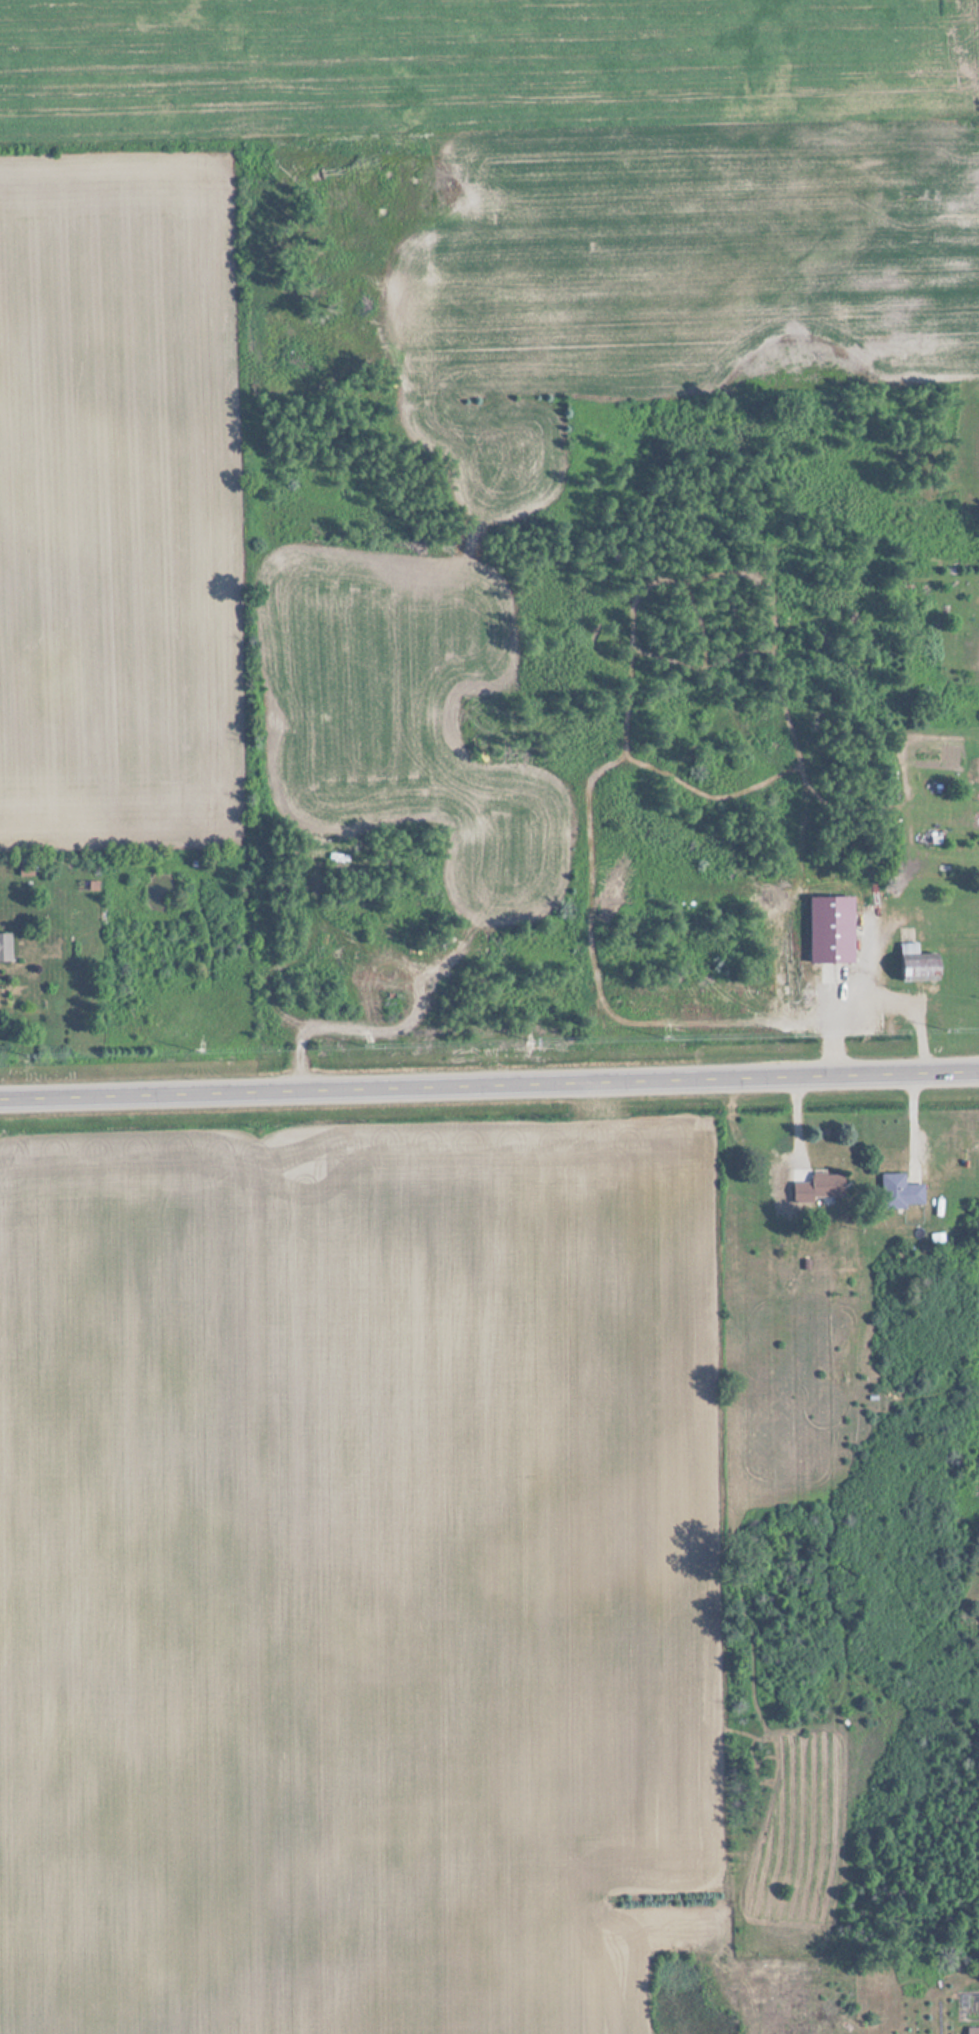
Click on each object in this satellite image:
building: (25, 872)
building: (833, 931)
building: (5, 949)
building: (920, 967)
road: (489, 1083)
building: (828, 1184)
building: (900, 1190)
building: (973, 2030)

